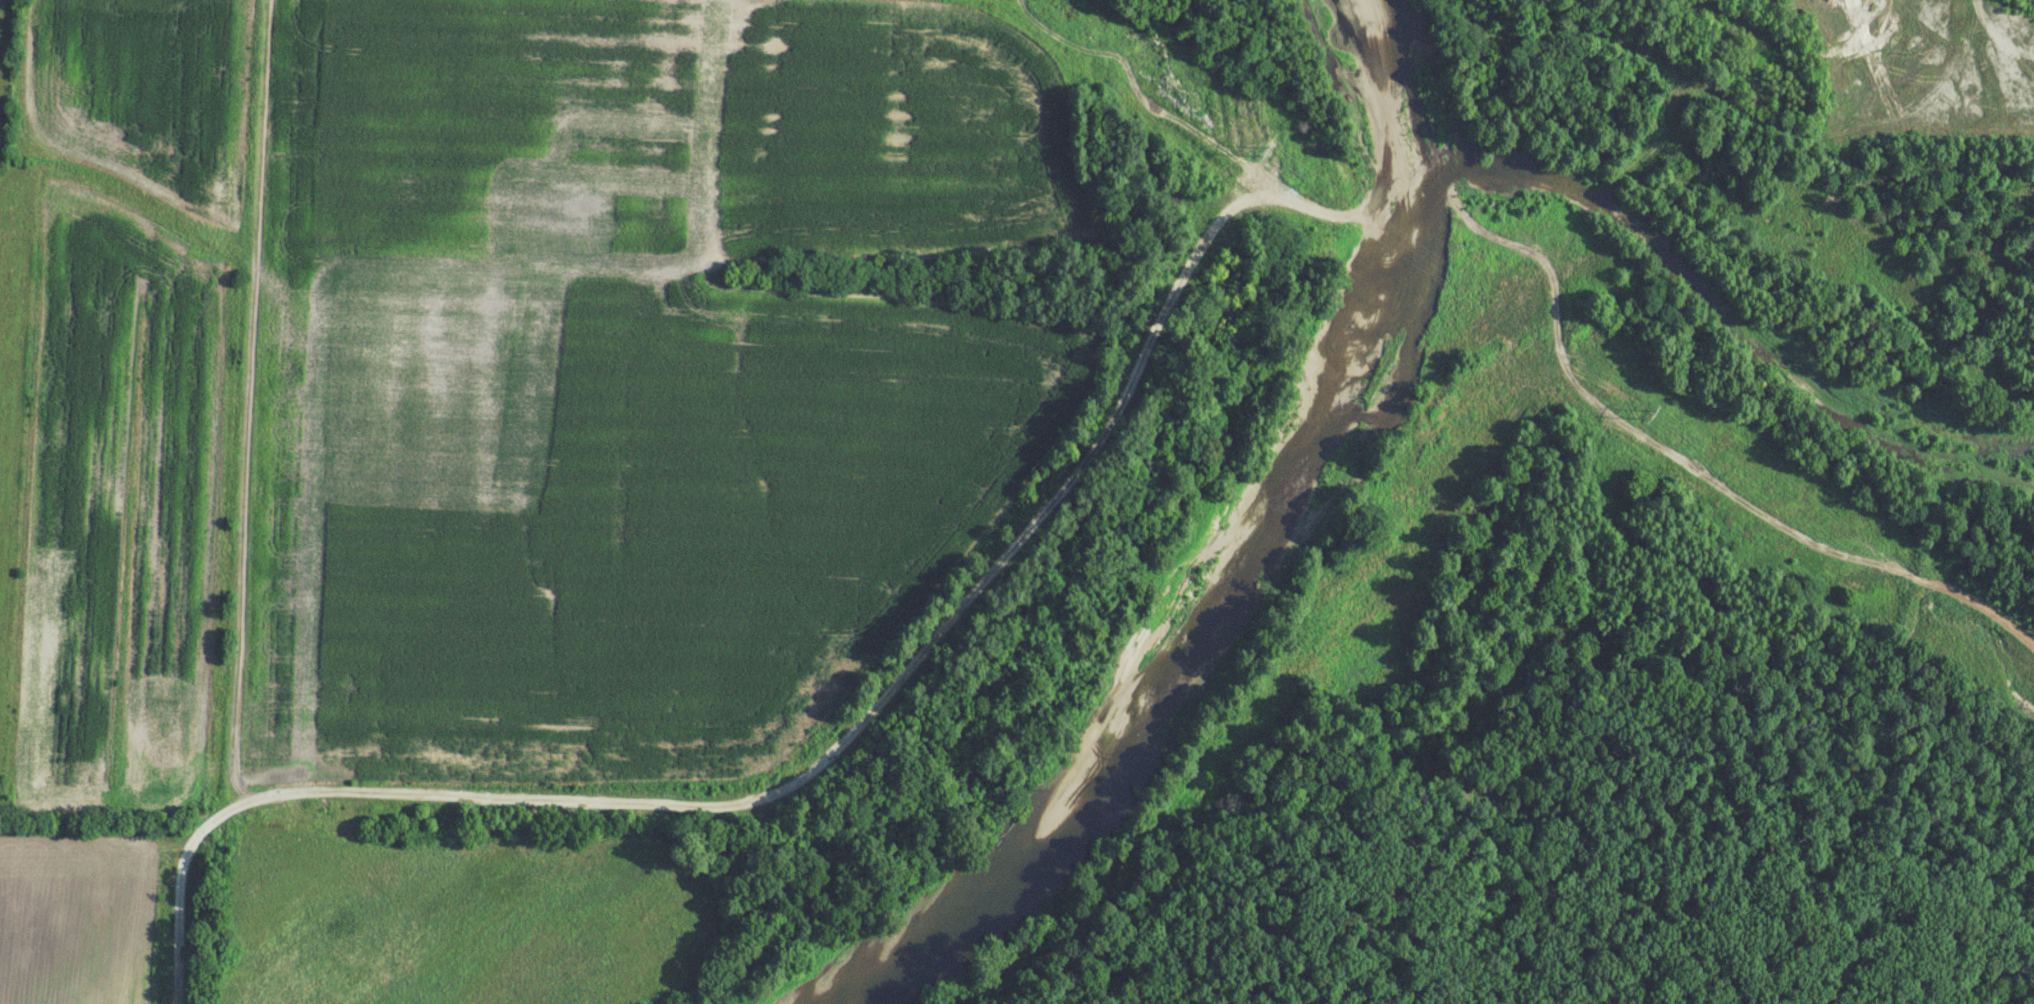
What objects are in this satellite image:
power tower: (1079, 27)
road: (1793, 137)
power tower: (1302, 174)
power tower: (1689, 442)
river: (1192, 634)

